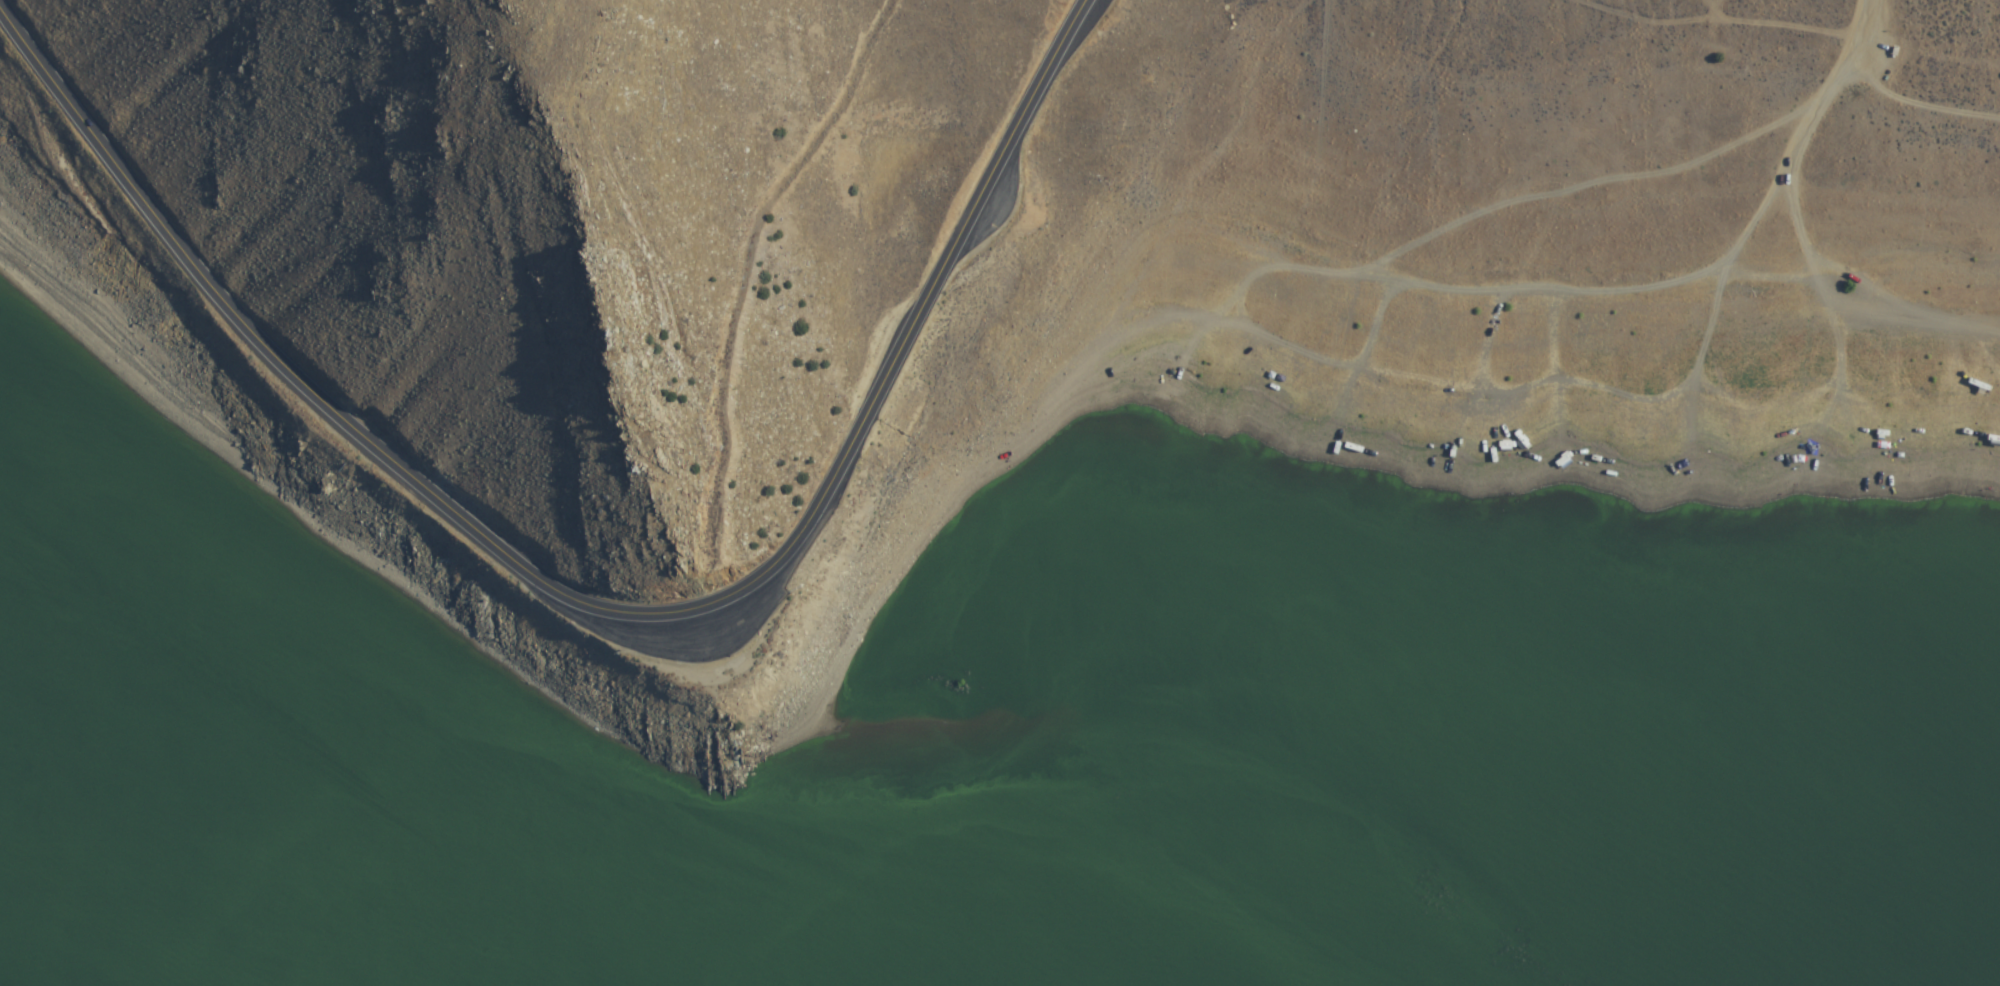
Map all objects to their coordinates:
road: (590, 600)

